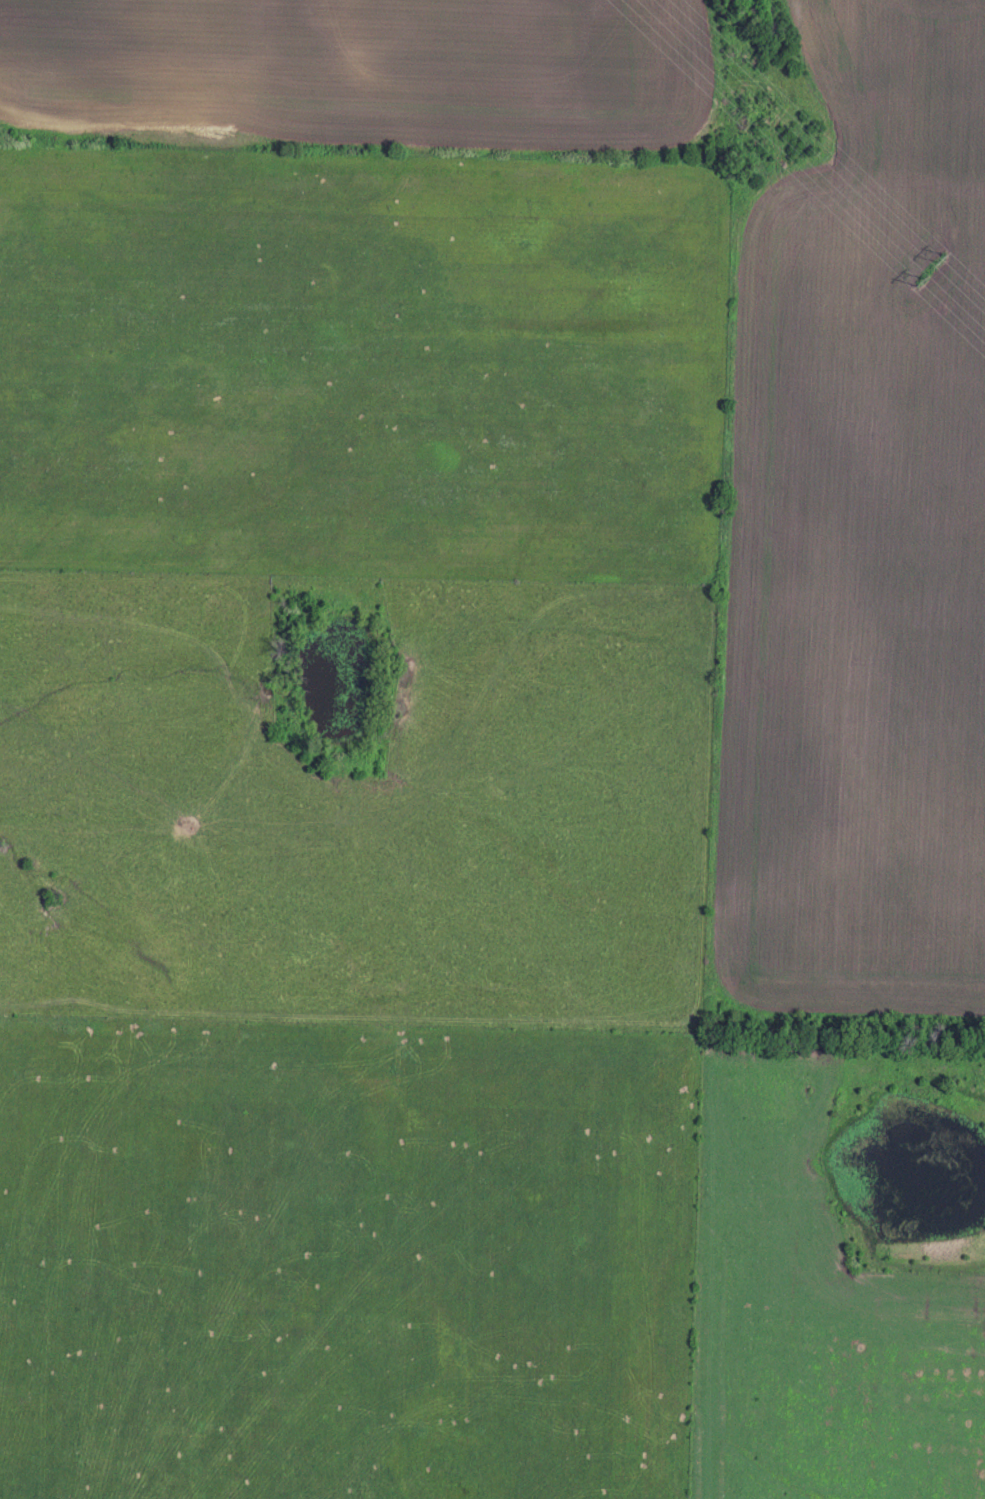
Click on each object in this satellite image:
power tower: (944, 259)
power tower: (918, 280)

